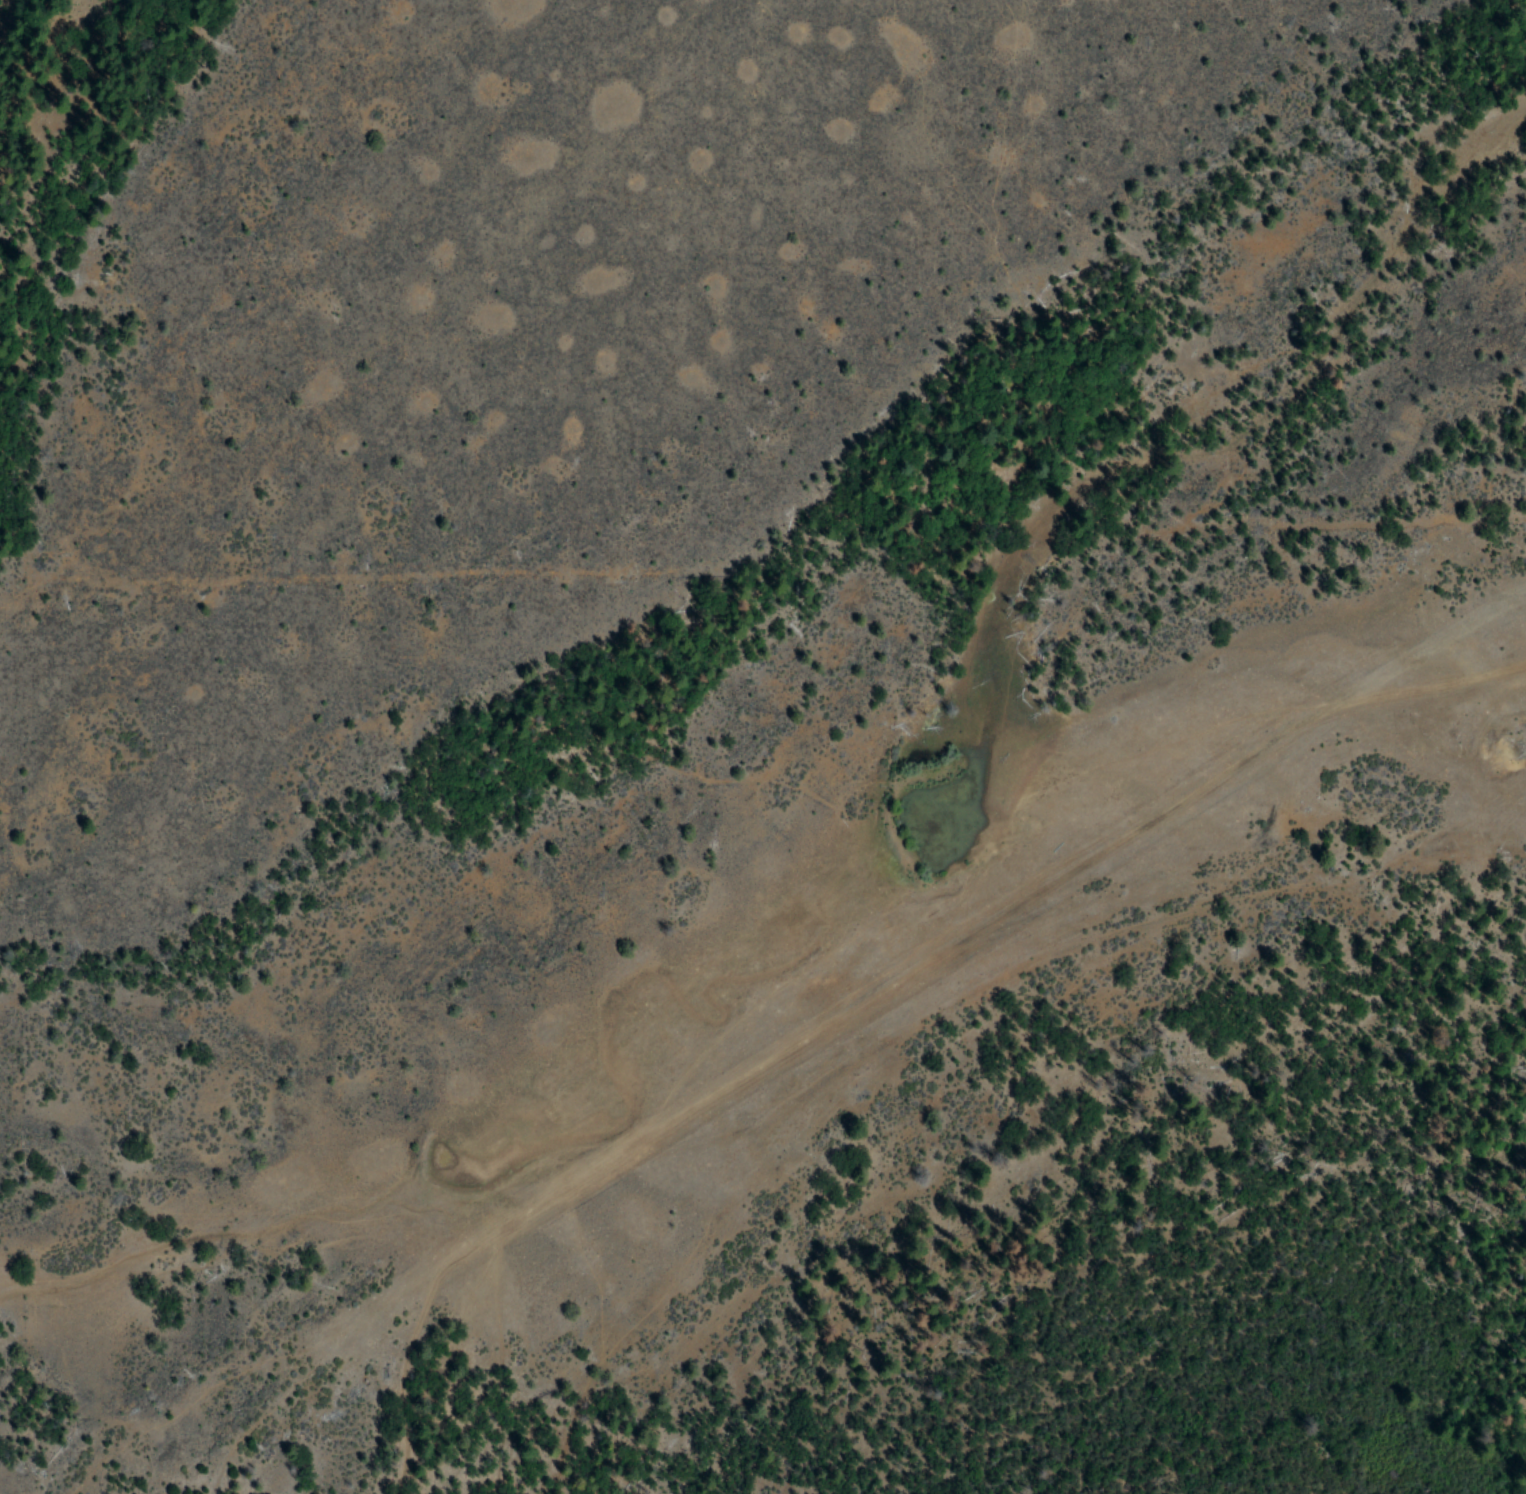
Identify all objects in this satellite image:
road: (12, 14)

